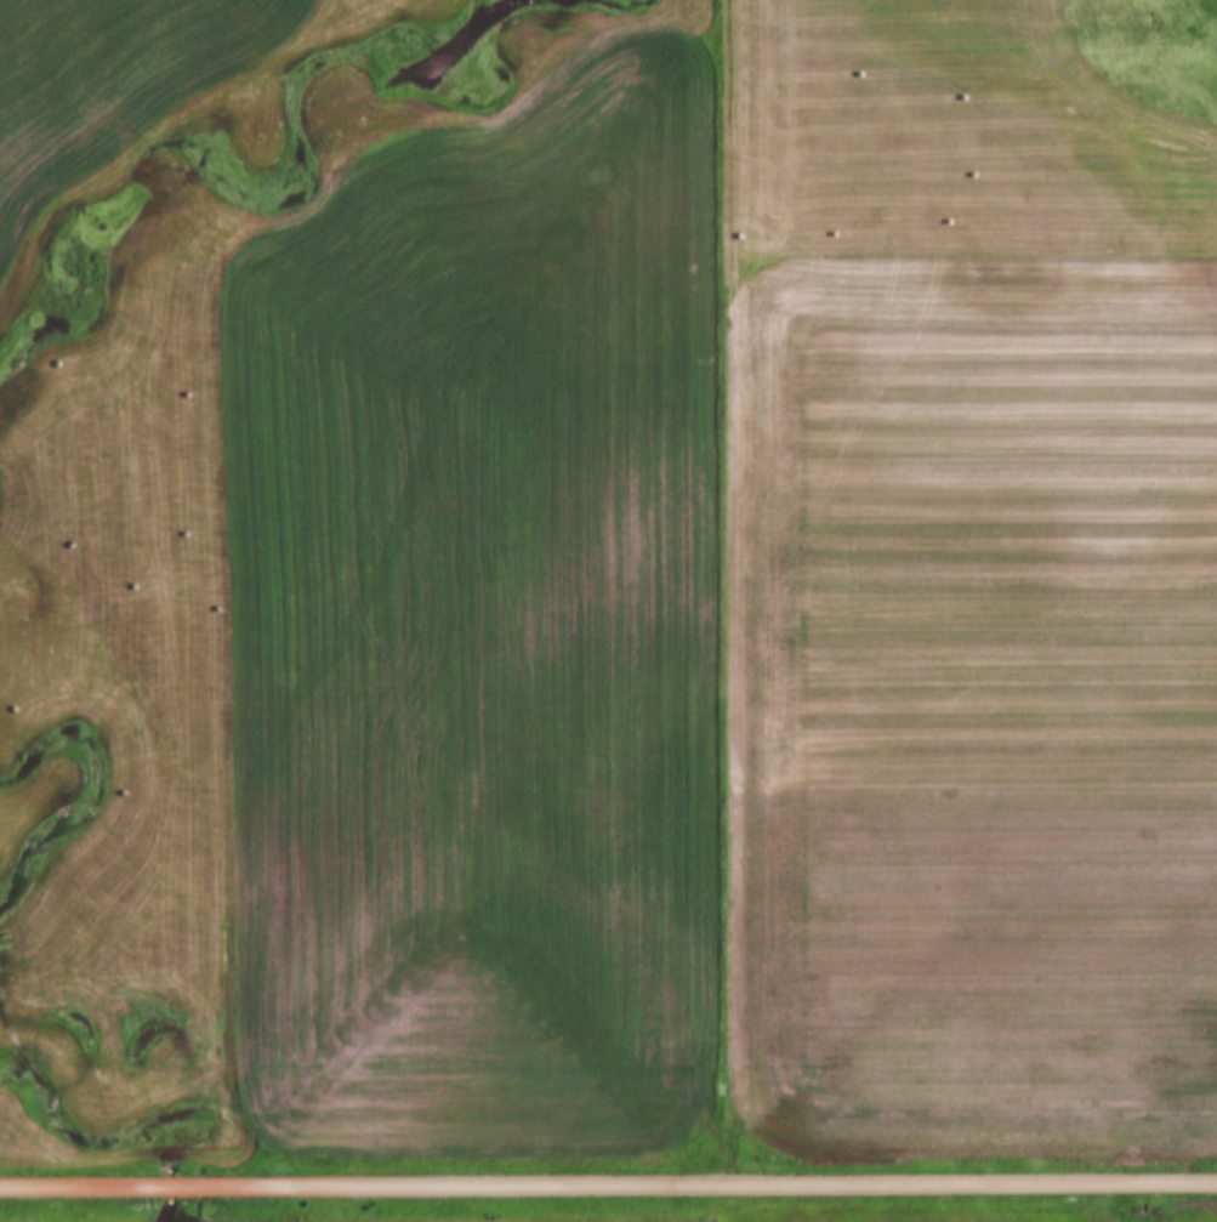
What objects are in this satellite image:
road: (608, 1184)

